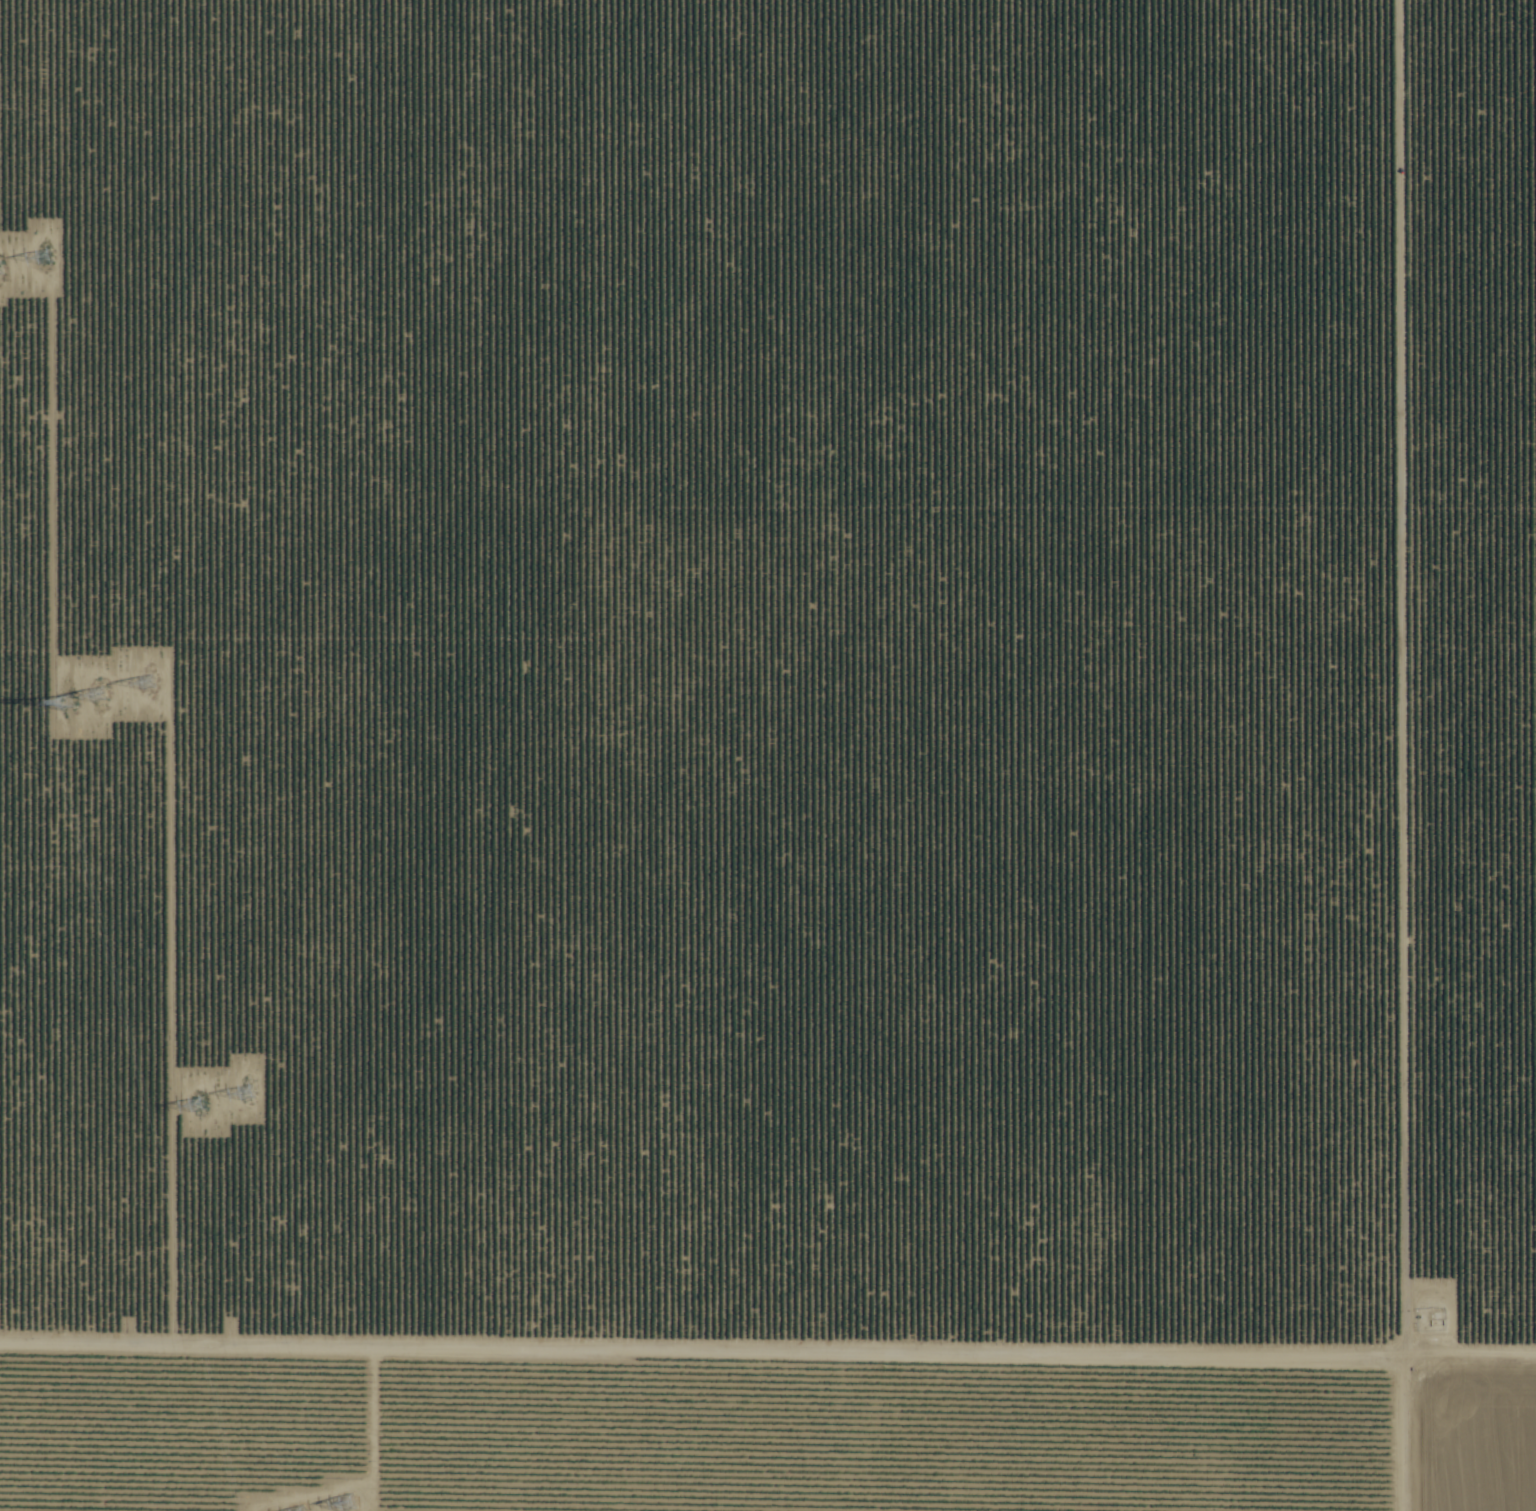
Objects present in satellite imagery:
power tower: (45, 253)
power tower: (151, 684)
power tower: (102, 700)
power tower: (69, 707)
crop: (768, 755)
power tower: (245, 1095)
power tower: (196, 1110)
wastewater plant: (6, 1224)
wastewater plant: (1492, 1252)
road: (768, 1321)
wastewater plant: (1372, 1411)
power tower: (347, 1503)

